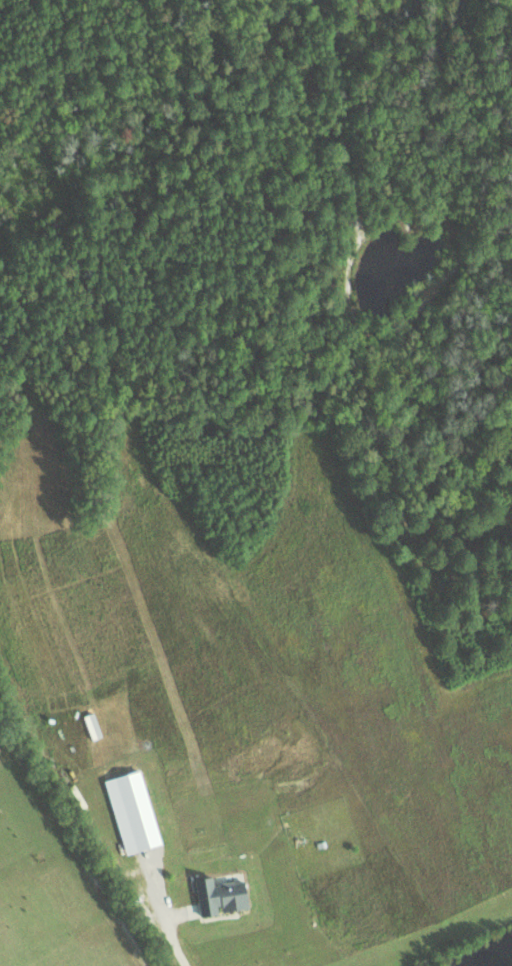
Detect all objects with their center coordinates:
building: (136, 823)
building: (219, 895)
road: (176, 940)

